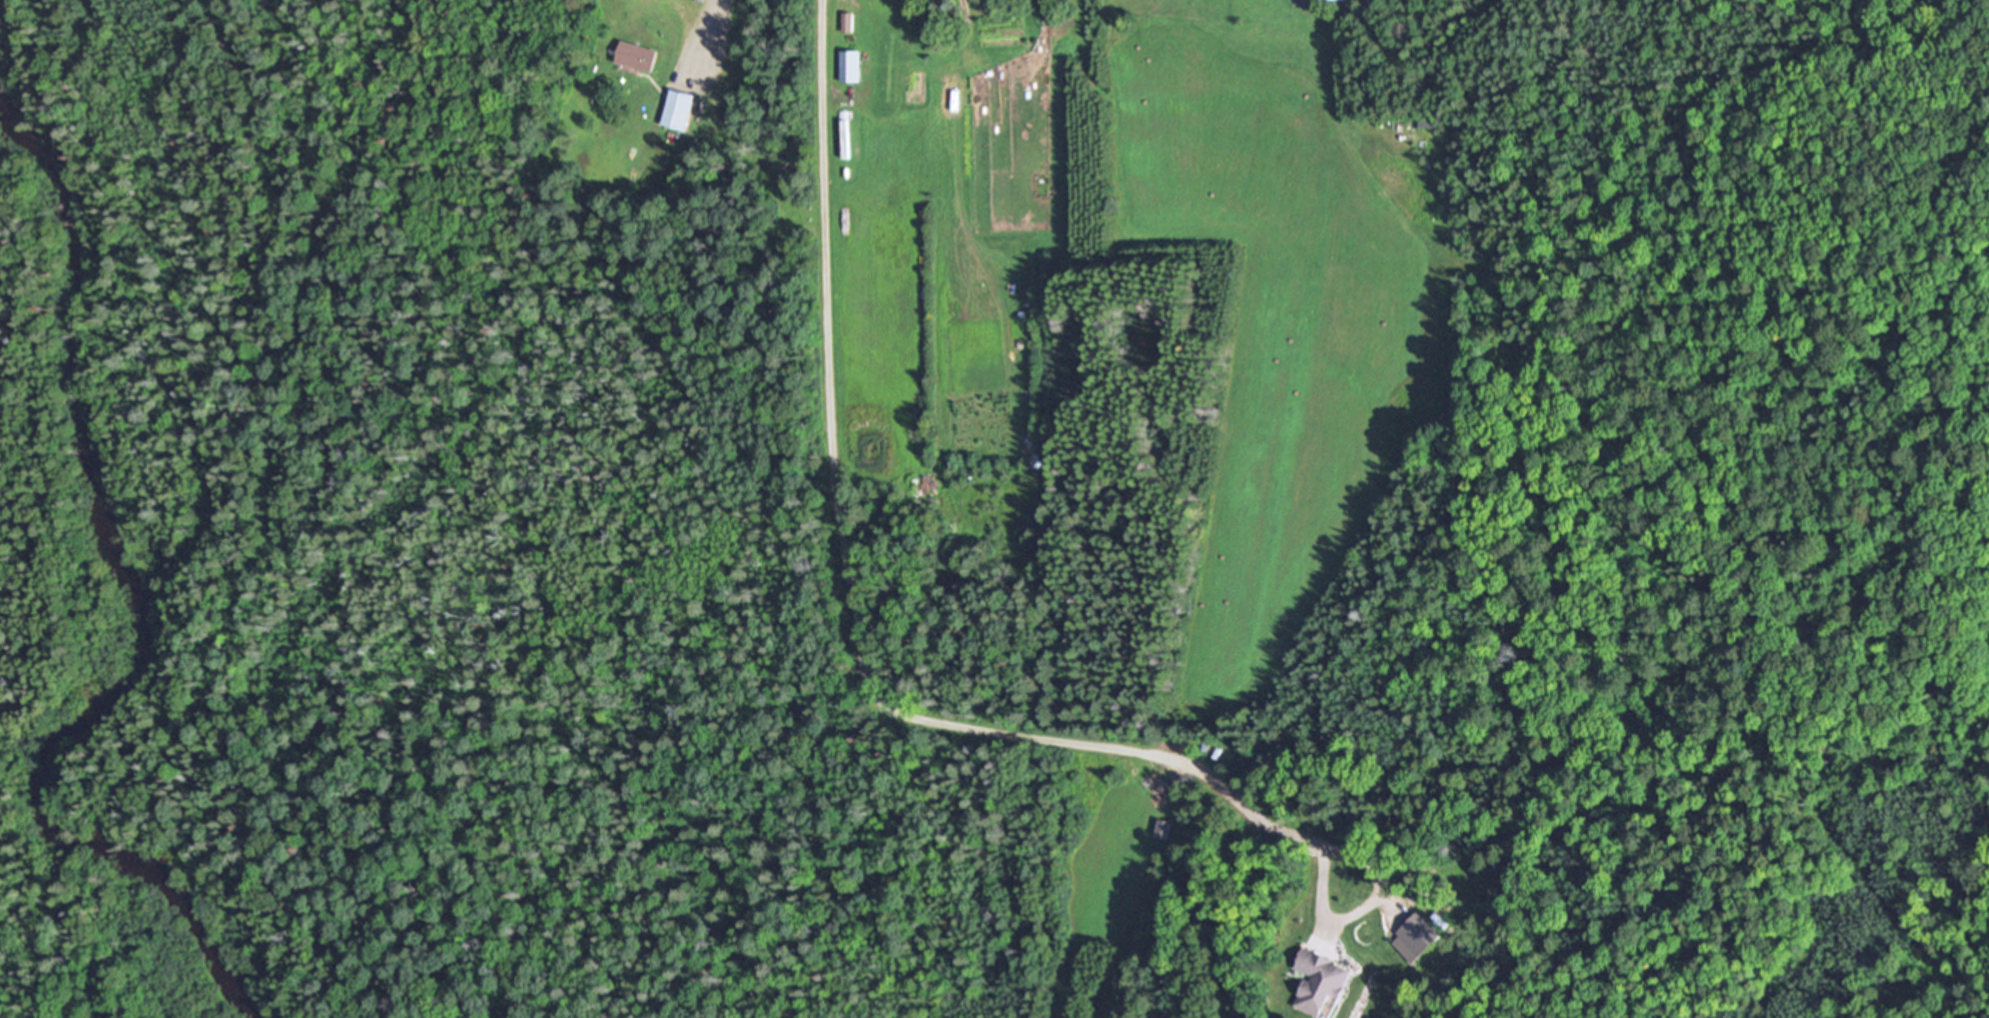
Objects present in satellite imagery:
building: (847, 22)
road: (716, 24)
building: (638, 55)
building: (850, 65)
building: (679, 108)
building: (1426, 119)
road: (850, 590)
river: (144, 601)
building: (1163, 828)
road: (1361, 916)
building: (1418, 935)
building: (1318, 982)

